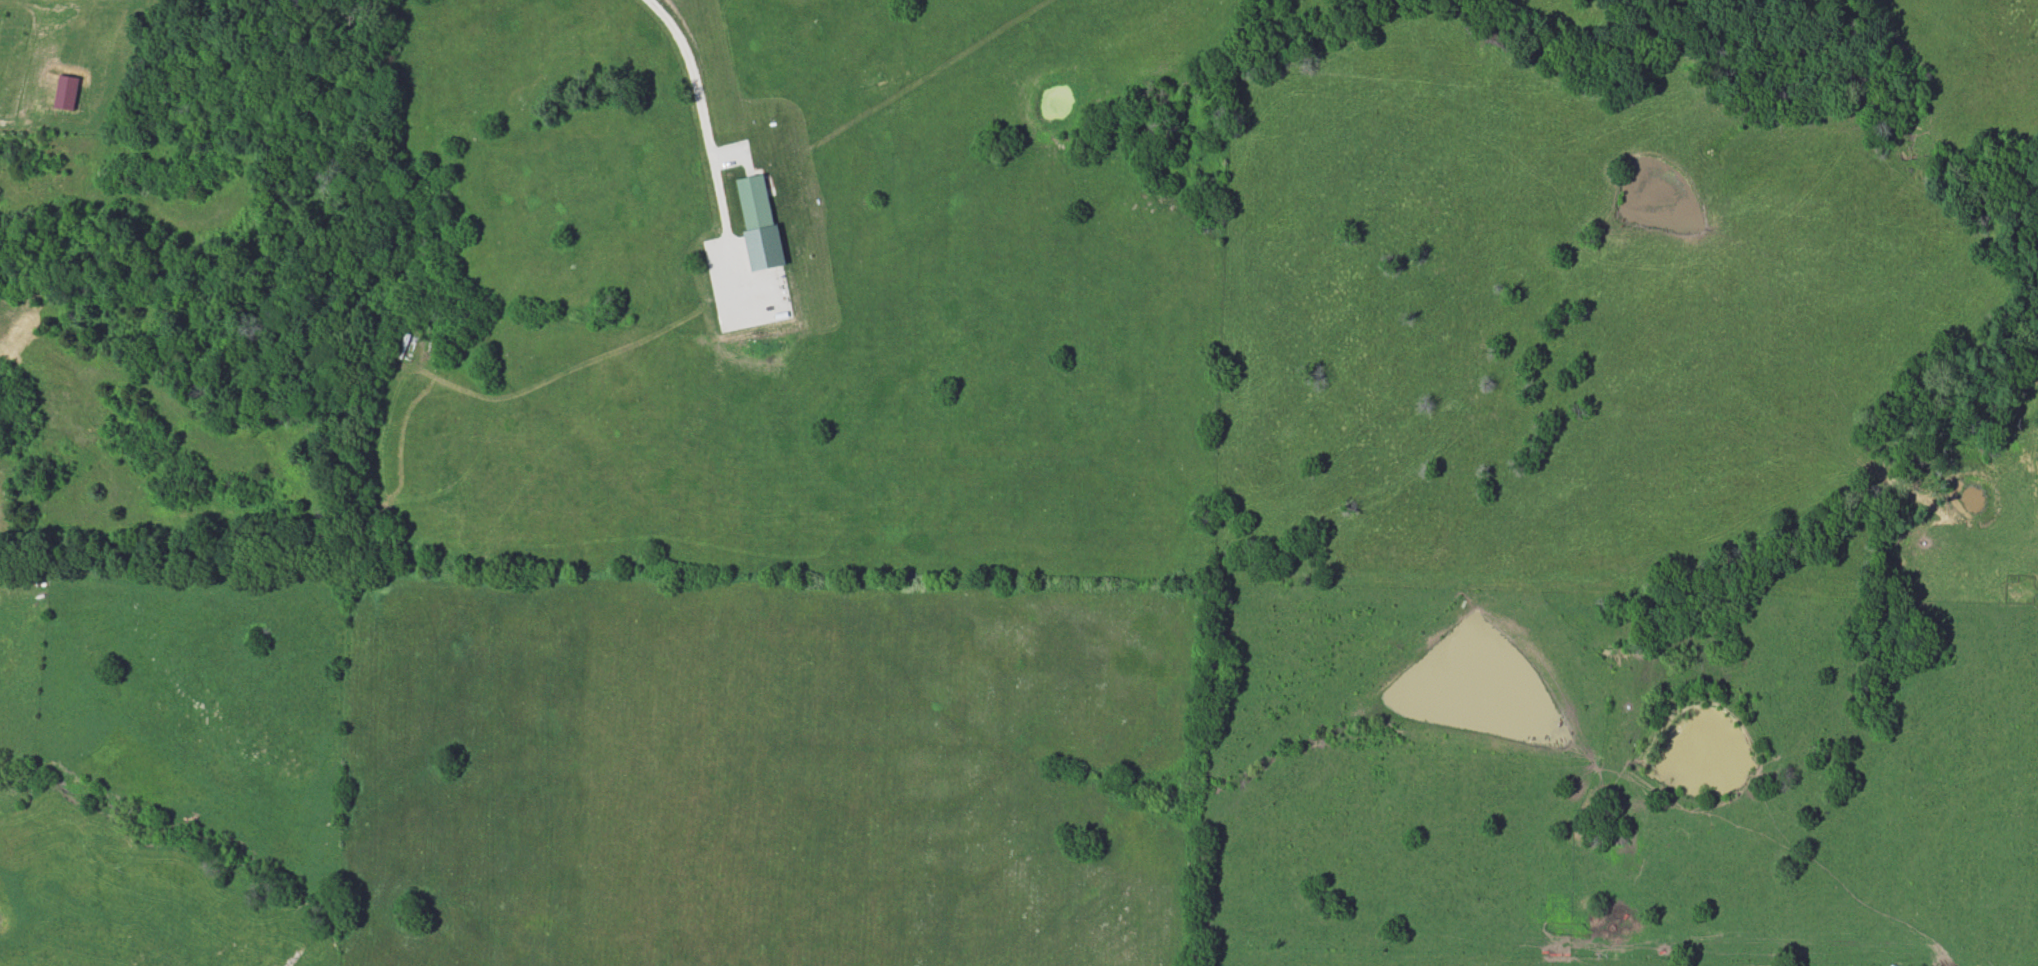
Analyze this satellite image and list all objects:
road: (694, 76)
building: (754, 203)

